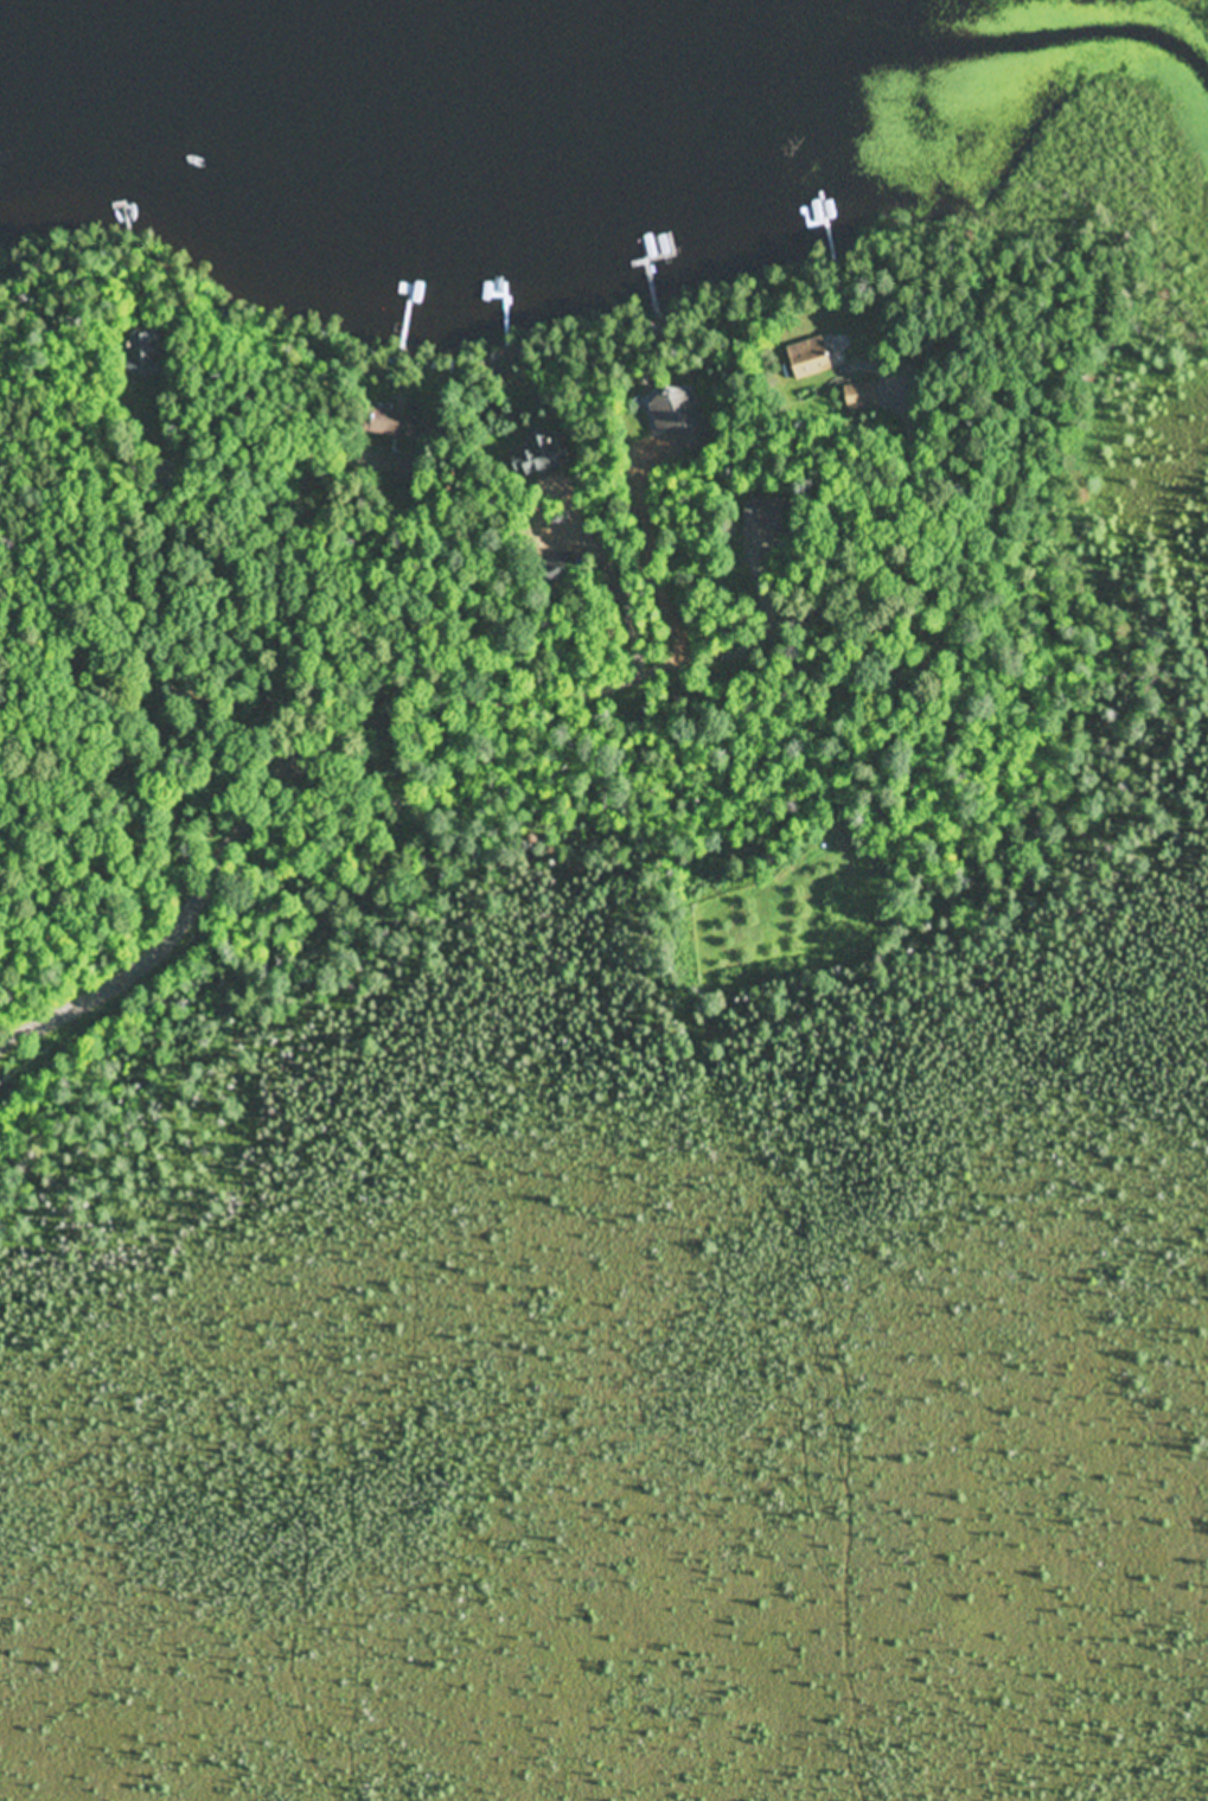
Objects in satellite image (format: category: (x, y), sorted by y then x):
building: (138, 344)
building: (806, 357)
building: (856, 395)
building: (657, 409)
building: (377, 410)
building: (530, 454)
road: (320, 484)
road: (226, 509)
road: (639, 563)
road: (448, 709)

